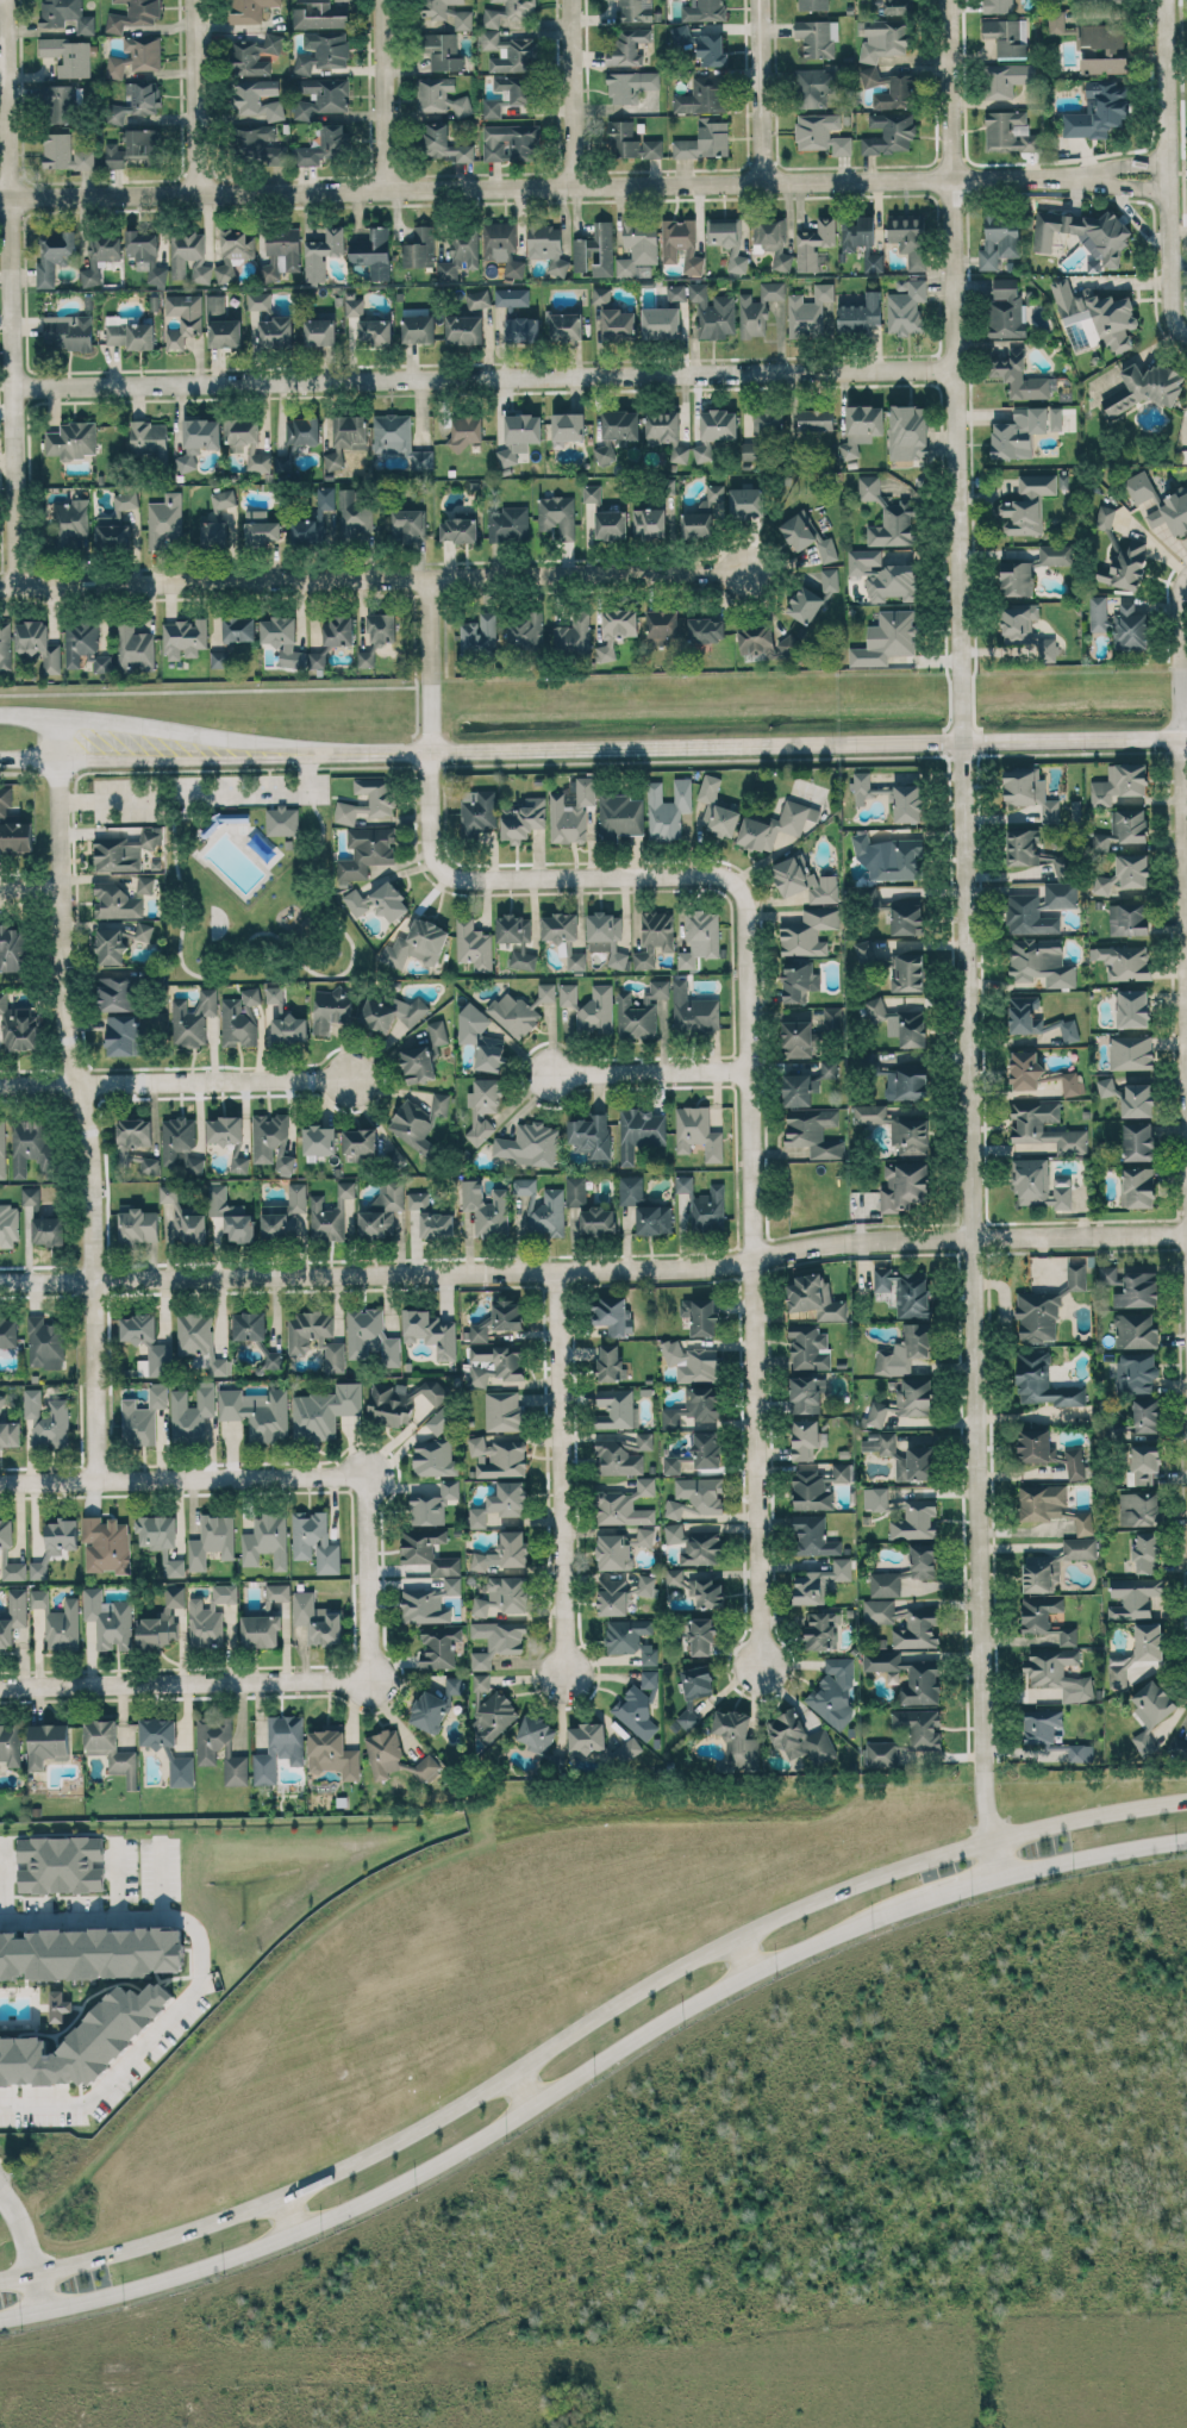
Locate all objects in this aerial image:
building: (812, 5)
building: (898, 6)
building: (250, 10)
building: (637, 11)
building: (704, 11)
building: (133, 14)
building: (445, 14)
building: (67, 15)
building: (318, 15)
building: (491, 33)
building: (1006, 36)
building: (817, 37)
building: (885, 37)
building: (1094, 44)
building: (700, 45)
building: (629, 46)
building: (323, 50)
building: (442, 51)
building: (254, 54)
building: (70, 55)
building: (135, 56)
building: (869, 76)
building: (1007, 79)
building: (630, 86)
road: (1169, 86)
building: (813, 87)
road: (763, 89)
road: (391, 90)
road: (579, 92)
building: (508, 93)
building: (895, 93)
road: (202, 95)
building: (702, 95)
building: (321, 96)
building: (441, 96)
building: (257, 100)
building: (135, 101)
building: (63, 102)
building: (1097, 111)
building: (889, 132)
building: (1008, 132)
building: (820, 133)
building: (256, 139)
building: (705, 139)
building: (142, 141)
building: (510, 142)
building: (630, 142)
building: (441, 143)
building: (326, 144)
building: (64, 152)
building: (113, 155)
road: (585, 182)
building: (856, 231)
building: (498, 237)
building: (907, 237)
building: (999, 238)
building: (727, 239)
building: (773, 241)
building: (814, 242)
building: (1105, 242)
building: (680, 244)
building: (546, 246)
building: (419, 248)
building: (638, 249)
building: (595, 250)
building: (280, 251)
building: (235, 252)
building: (321, 252)
building: (373, 252)
road: (1173, 252)
building: (460, 254)
building: (54, 255)
building: (100, 256)
building: (145, 256)
building: (188, 256)
building: (873, 261)
building: (514, 268)
building: (675, 292)
road: (10, 293)
building: (512, 297)
building: (477, 299)
building: (354, 306)
building: (906, 307)
building: (758, 308)
building: (1007, 310)
building: (712, 311)
building: (807, 312)
building: (861, 316)
building: (1097, 316)
building: (183, 318)
building: (270, 320)
building: (221, 323)
building: (662, 323)
building: (617, 324)
building: (566, 326)
building: (418, 327)
building: (464, 329)
building: (521, 329)
building: (68, 331)
building: (319, 331)
building: (375, 331)
building: (129, 332)
road: (489, 374)
building: (1019, 376)
building: (1144, 387)
building: (816, 419)
building: (768, 423)
building: (718, 424)
building: (662, 426)
building: (567, 427)
building: (861, 427)
building: (302, 430)
building: (1024, 430)
building: (464, 431)
building: (617, 431)
building: (907, 432)
building: (518, 436)
building: (148, 438)
building: (198, 438)
building: (346, 438)
building: (399, 438)
building: (73, 439)
building: (246, 441)
building: (749, 450)
building: (702, 451)
building: (679, 452)
building: (282, 462)
building: (1037, 483)
building: (869, 487)
building: (1138, 487)
building: (591, 493)
building: (125, 499)
building: (745, 503)
building: (352, 512)
building: (1172, 512)
building: (704, 514)
building: (557, 516)
building: (1105, 516)
building: (1019, 517)
building: (164, 519)
building: (313, 519)
building: (70, 520)
building: (508, 523)
building: (649, 523)
building: (611, 524)
building: (407, 525)
building: (893, 525)
building: (261, 528)
building: (458, 530)
building: (112, 531)
building: (217, 533)
building: (807, 537)
building: (1055, 554)
building: (1124, 567)
building: (882, 575)
building: (1017, 578)
road: (375, 580)
building: (813, 597)
road: (1185, 614)
building: (662, 623)
building: (1018, 623)
building: (1120, 623)
building: (238, 629)
building: (706, 629)
building: (337, 630)
building: (614, 630)
building: (525, 631)
building: (479, 635)
building: (573, 635)
building: (376, 636)
building: (183, 638)
building: (886, 638)
building: (282, 639)
building: (763, 641)
building: (5, 642)
building: (38, 644)
building: (83, 647)
building: (135, 647)
building: (1048, 649)
building: (219, 659)
building: (317, 660)
road: (431, 662)
road: (146, 725)
road: (741, 743)
road: (146, 750)
building: (862, 782)
building: (1120, 782)
building: (1030, 792)
road: (206, 794)
building: (380, 797)
building: (5, 801)
building: (907, 803)
building: (716, 807)
building: (668, 809)
building: (477, 811)
building: (571, 811)
building: (619, 816)
building: (523, 819)
building: (282, 820)
building: (775, 825)
building: (1124, 828)
building: (15, 836)
building: (125, 850)
building: (366, 851)
building: (891, 856)
building: (1061, 862)
building: (1125, 874)
building: (145, 884)
building: (804, 885)
road: (35, 886)
building: (115, 901)
building: (377, 901)
building: (1032, 907)
building: (906, 916)
building: (1127, 918)
building: (808, 931)
building: (606, 936)
building: (563, 937)
building: (700, 937)
building: (517, 938)
building: (654, 938)
road: (974, 938)
building: (119, 940)
building: (417, 944)
building: (473, 944)
building: (12, 948)
building: (866, 951)
building: (1124, 961)
building: (1041, 962)
building: (908, 972)
building: (798, 980)
building: (115, 994)
building: (274, 994)
building: (589, 1006)
building: (1132, 1007)
building: (875, 1009)
building: (331, 1010)
building: (520, 1010)
building: (693, 1010)
building: (641, 1011)
building: (388, 1012)
building: (192, 1018)
building: (239, 1018)
building: (1036, 1018)
building: (18, 1026)
building: (289, 1028)
building: (911, 1028)
building: (808, 1034)
building: (124, 1035)
building: (481, 1041)
building: (1131, 1051)
building: (423, 1055)
road: (749, 1057)
building: (827, 1068)
building: (1024, 1069)
road: (645, 1073)
road: (182, 1081)
building: (1072, 1082)
building: (912, 1084)
building: (1107, 1086)
building: (799, 1088)
road: (85, 1094)
building: (1137, 1100)
building: (483, 1105)
building: (418, 1122)
building: (1027, 1125)
building: (897, 1128)
building: (638, 1131)
building: (698, 1132)
building: (813, 1132)
building: (591, 1136)
building: (176, 1137)
building: (229, 1137)
building: (319, 1140)
building: (271, 1141)
building: (1138, 1141)
building: (136, 1143)
building: (360, 1143)
building: (32, 1144)
building: (527, 1144)
building: (2, 1150)
building: (190, 1163)
building: (1041, 1184)
building: (904, 1185)
building: (1137, 1187)
building: (630, 1190)
building: (575, 1191)
building: (30, 1196)
building: (704, 1204)
building: (542, 1207)
building: (486, 1209)
building: (382, 1212)
building: (330, 1213)
building: (231, 1215)
building: (287, 1216)
building: (183, 1217)
building: (430, 1217)
building: (655, 1219)
building: (598, 1221)
building: (468, 1223)
building: (8, 1224)
building: (138, 1224)
building: (48, 1230)
road: (594, 1267)
building: (1110, 1274)
building: (1076, 1277)
building: (905, 1290)
building: (1138, 1290)
building: (813, 1297)
building: (610, 1313)
building: (700, 1315)
building: (1037, 1316)
building: (499, 1318)
building: (249, 1325)
building: (138, 1327)
building: (1136, 1330)
building: (431, 1331)
building: (8, 1332)
building: (370, 1336)
building: (199, 1340)
building: (45, 1343)
building: (331, 1343)
building: (808, 1347)
building: (905, 1349)
building: (156, 1360)
building: (273, 1360)
building: (691, 1361)
building: (496, 1363)
building: (611, 1363)
building: (1136, 1372)
building: (1043, 1381)
building: (806, 1393)
building: (1, 1400)
building: (399, 1400)
building: (904, 1402)
building: (694, 1406)
building: (616, 1409)
building: (325, 1410)
building: (504, 1411)
building: (190, 1412)
building: (257, 1412)
building: (1147, 1415)
building: (143, 1416)
building: (46, 1419)
building: (10, 1434)
building: (806, 1438)
building: (644, 1441)
building: (880, 1442)
building: (436, 1448)
building: (706, 1449)
building: (1048, 1452)
building: (498, 1456)
building: (617, 1459)
building: (917, 1462)
building: (1143, 1462)
building: (670, 1463)
building: (842, 1472)
road: (205, 1474)
road: (569, 1477)
building: (812, 1488)
building: (695, 1497)
building: (875, 1498)
building: (1041, 1502)
building: (500, 1503)
building: (432, 1504)
building: (625, 1504)
building: (1139, 1508)
building: (916, 1519)
building: (1083, 1523)
building: (156, 1531)
building: (6, 1533)
building: (674, 1533)
building: (812, 1536)
building: (212, 1540)
building: (265, 1541)
building: (314, 1541)
building: (55, 1543)
building: (106, 1544)
building: (701, 1547)
building: (620, 1548)
building: (427, 1550)
building: (502, 1552)
building: (1147, 1553)
building: (923, 1556)
building: (1055, 1563)
building: (174, 1566)
building: (14, 1571)
building: (673, 1577)
building: (820, 1581)
building: (643, 1585)
building: (707, 1592)
building: (225, 1593)
building: (276, 1593)
building: (1133, 1596)
building: (504, 1597)
building: (612, 1597)
building: (39, 1598)
building: (429, 1603)
road: (377, 1614)
building: (12, 1617)
building: (1045, 1617)
building: (108, 1618)
building: (317, 1618)
building: (160, 1622)
building: (904, 1623)
building: (204, 1624)
building: (63, 1625)
building: (820, 1629)
building: (261, 1630)
building: (626, 1634)
building: (701, 1635)
building: (496, 1641)
building: (438, 1644)
building: (649, 1654)
building: (1056, 1673)
building: (907, 1674)
road: (169, 1681)
building: (454, 1684)
building: (832, 1689)
building: (694, 1691)
building: (1154, 1700)
building: (638, 1705)
building: (429, 1711)
building: (1041, 1724)
building: (157, 1731)
building: (536, 1734)
building: (919, 1734)
building: (736, 1736)
building: (586, 1737)
building: (799, 1737)
building: (10, 1743)
building: (48, 1743)
building: (1143, 1743)
building: (1177, 1746)
building: (279, 1747)
building: (220, 1748)
building: (111, 1749)
building: (629, 1749)
building: (383, 1752)
building: (1080, 1752)
building: (332, 1754)
building: (881, 1754)
building: (426, 1767)
building: (181, 1771)
building: (61, 1864)
road: (4, 1881)
road: (117, 1881)
road: (161, 1881)
building: (92, 1952)
road: (744, 1953)
road: (189, 1983)
building: (58, 2005)
road: (587, 2022)
building: (83, 2041)
road: (589, 2067)
road: (524, 2087)
road: (290, 2212)
road: (18, 2239)
road: (39, 2292)

